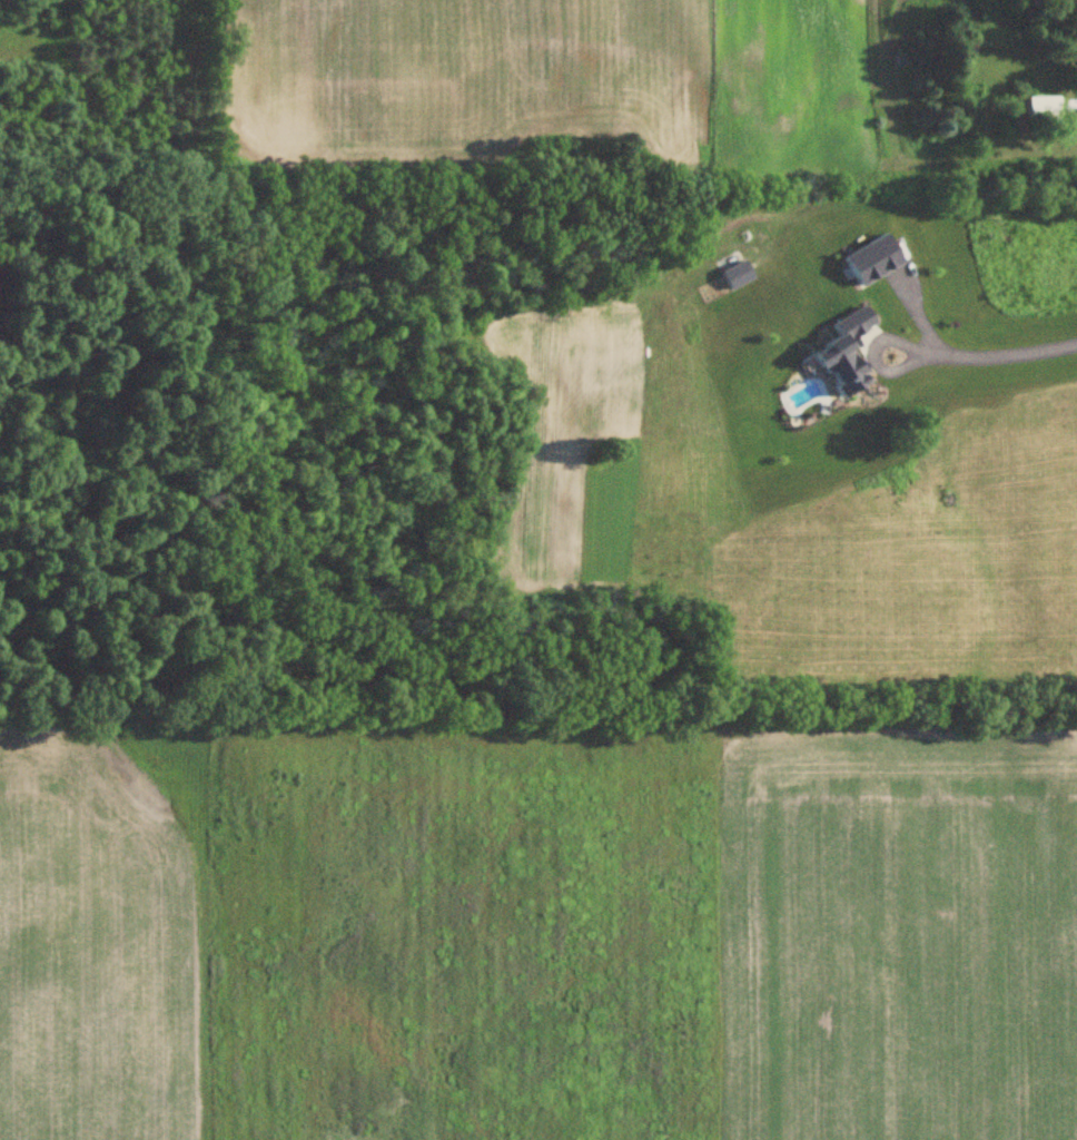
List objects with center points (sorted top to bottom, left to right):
building: (1040, 111)
road: (995, 357)
road: (870, 360)

